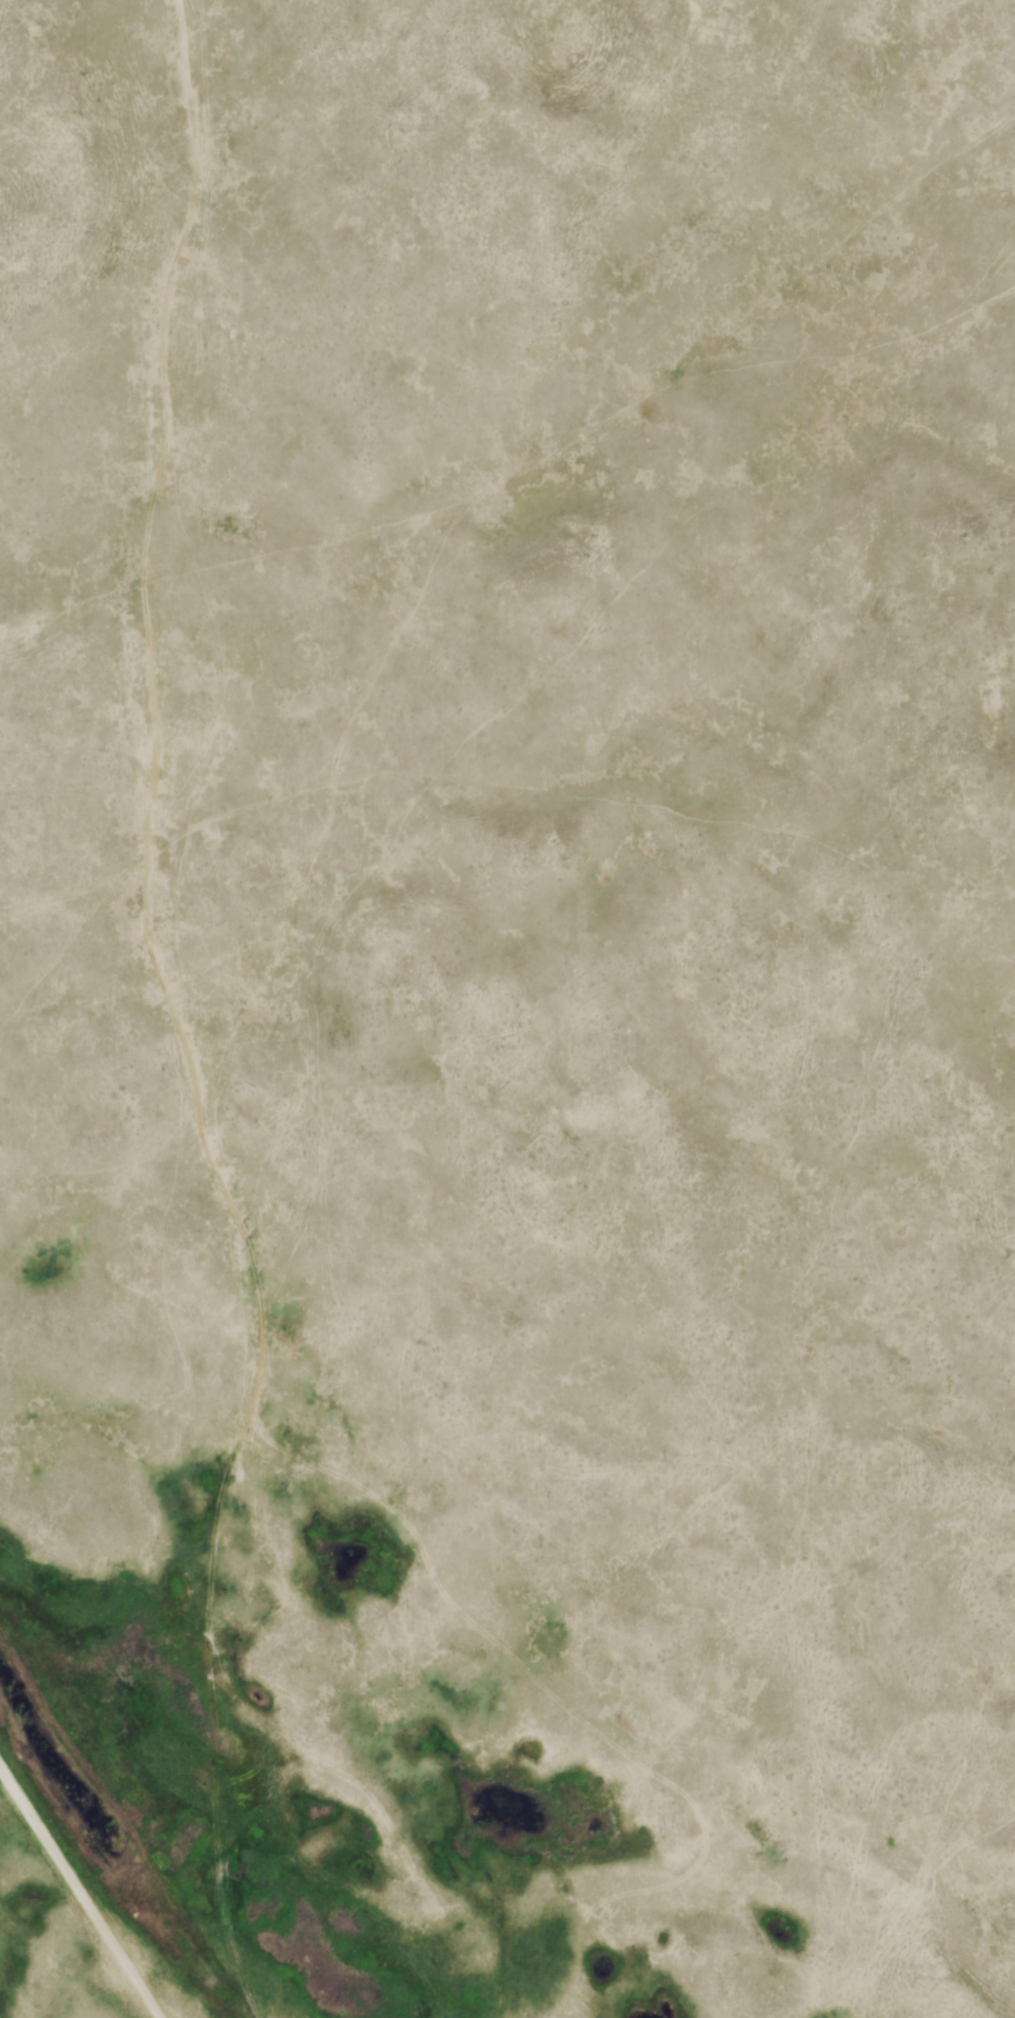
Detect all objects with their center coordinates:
road: (79, 1891)

